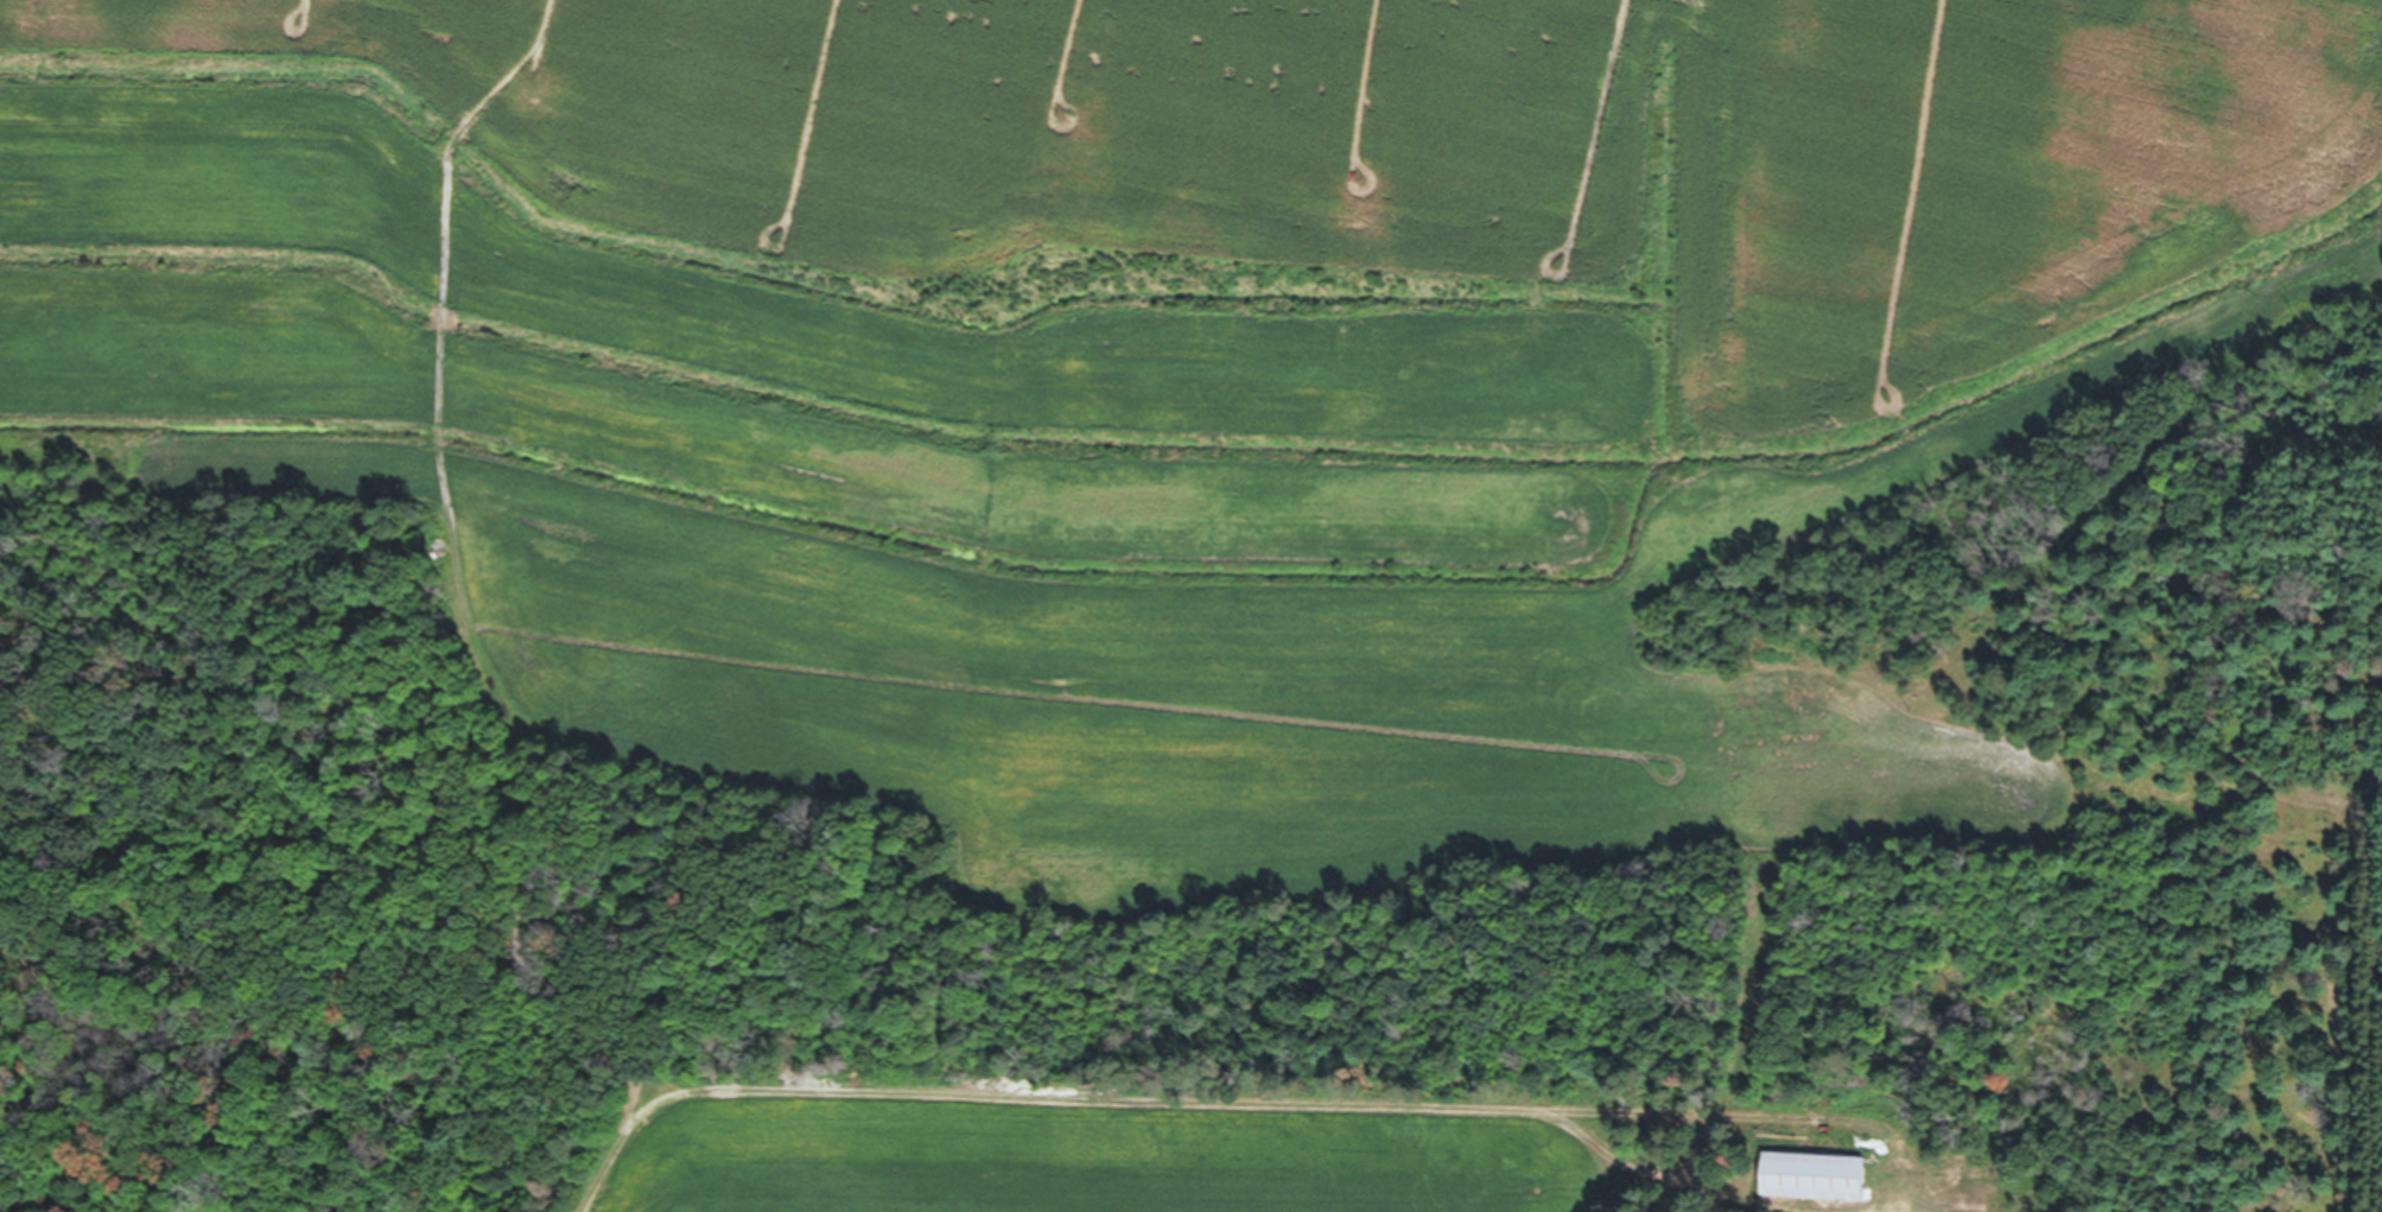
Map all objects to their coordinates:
building: (1811, 1186)

